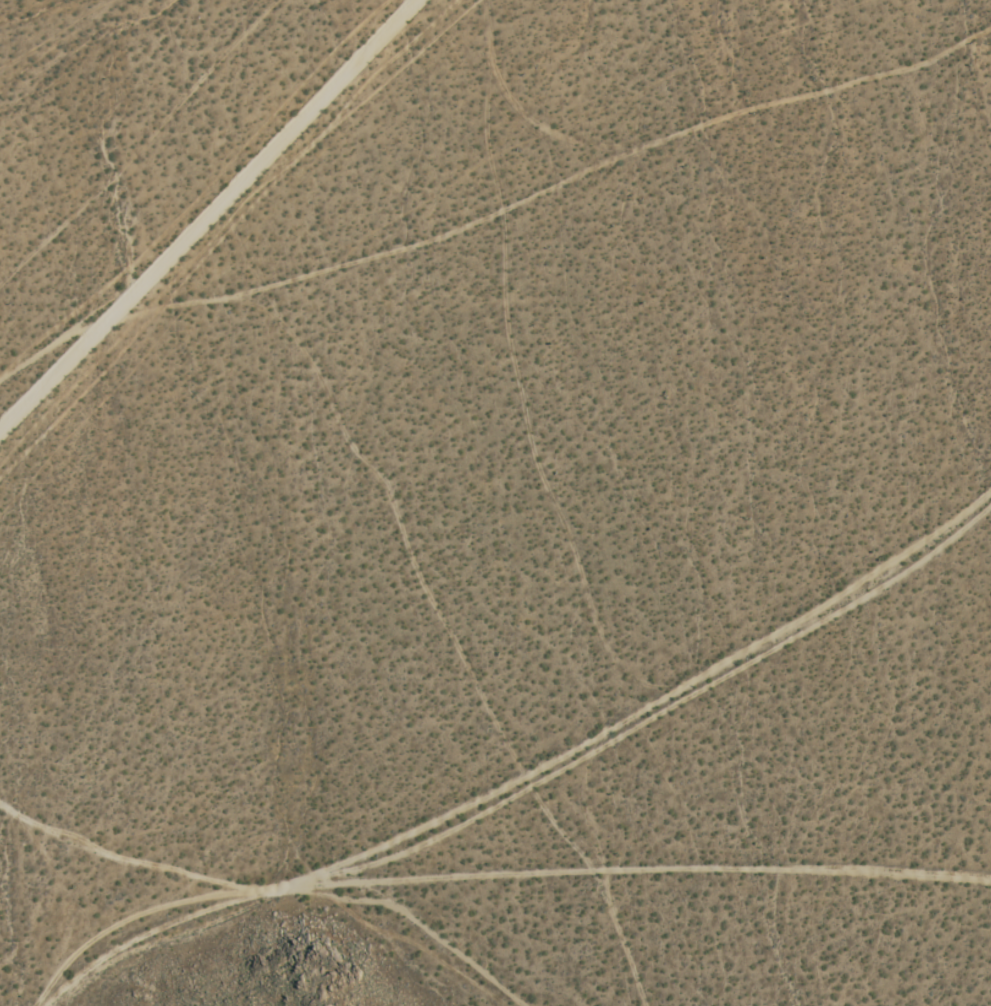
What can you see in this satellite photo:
road: (557, 186)
road: (218, 219)
road: (779, 630)
road: (481, 643)
road: (639, 862)
road: (287, 889)
road: (450, 918)

